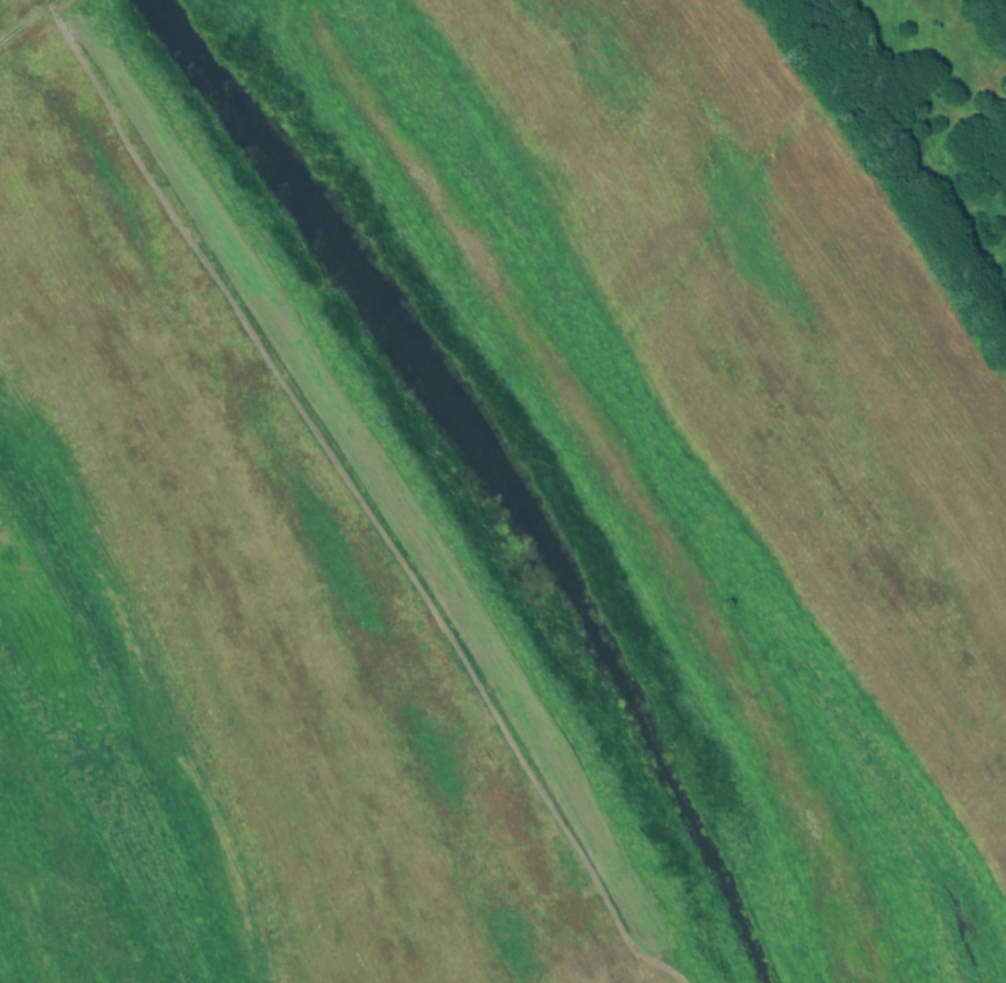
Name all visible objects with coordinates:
road: (26, 18)

